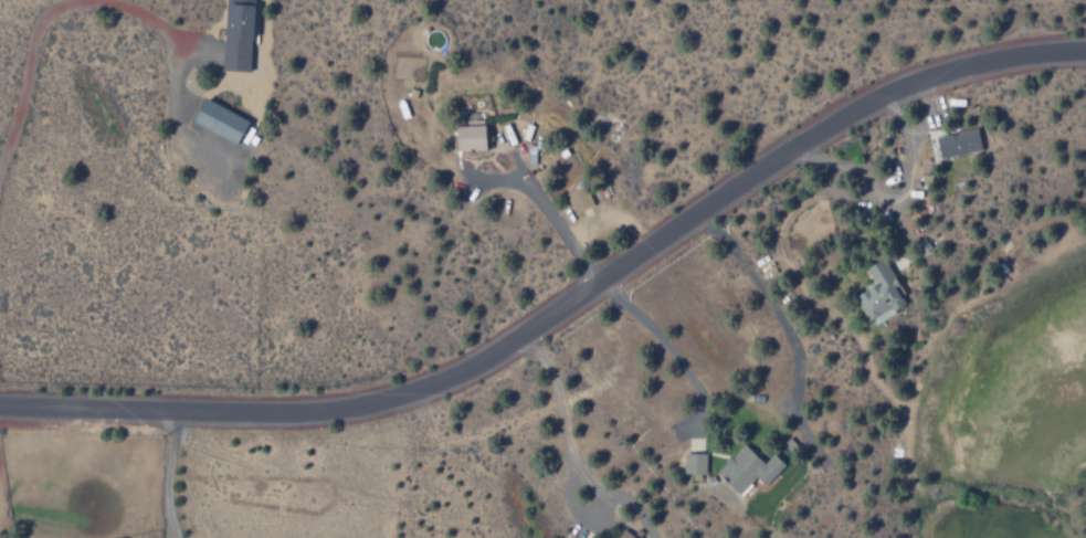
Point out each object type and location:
building: (236, 38)
building: (218, 120)
building: (468, 138)
building: (956, 144)
building: (577, 199)
building: (877, 292)
road: (565, 304)
building: (693, 462)
building: (746, 468)
building: (622, 535)

